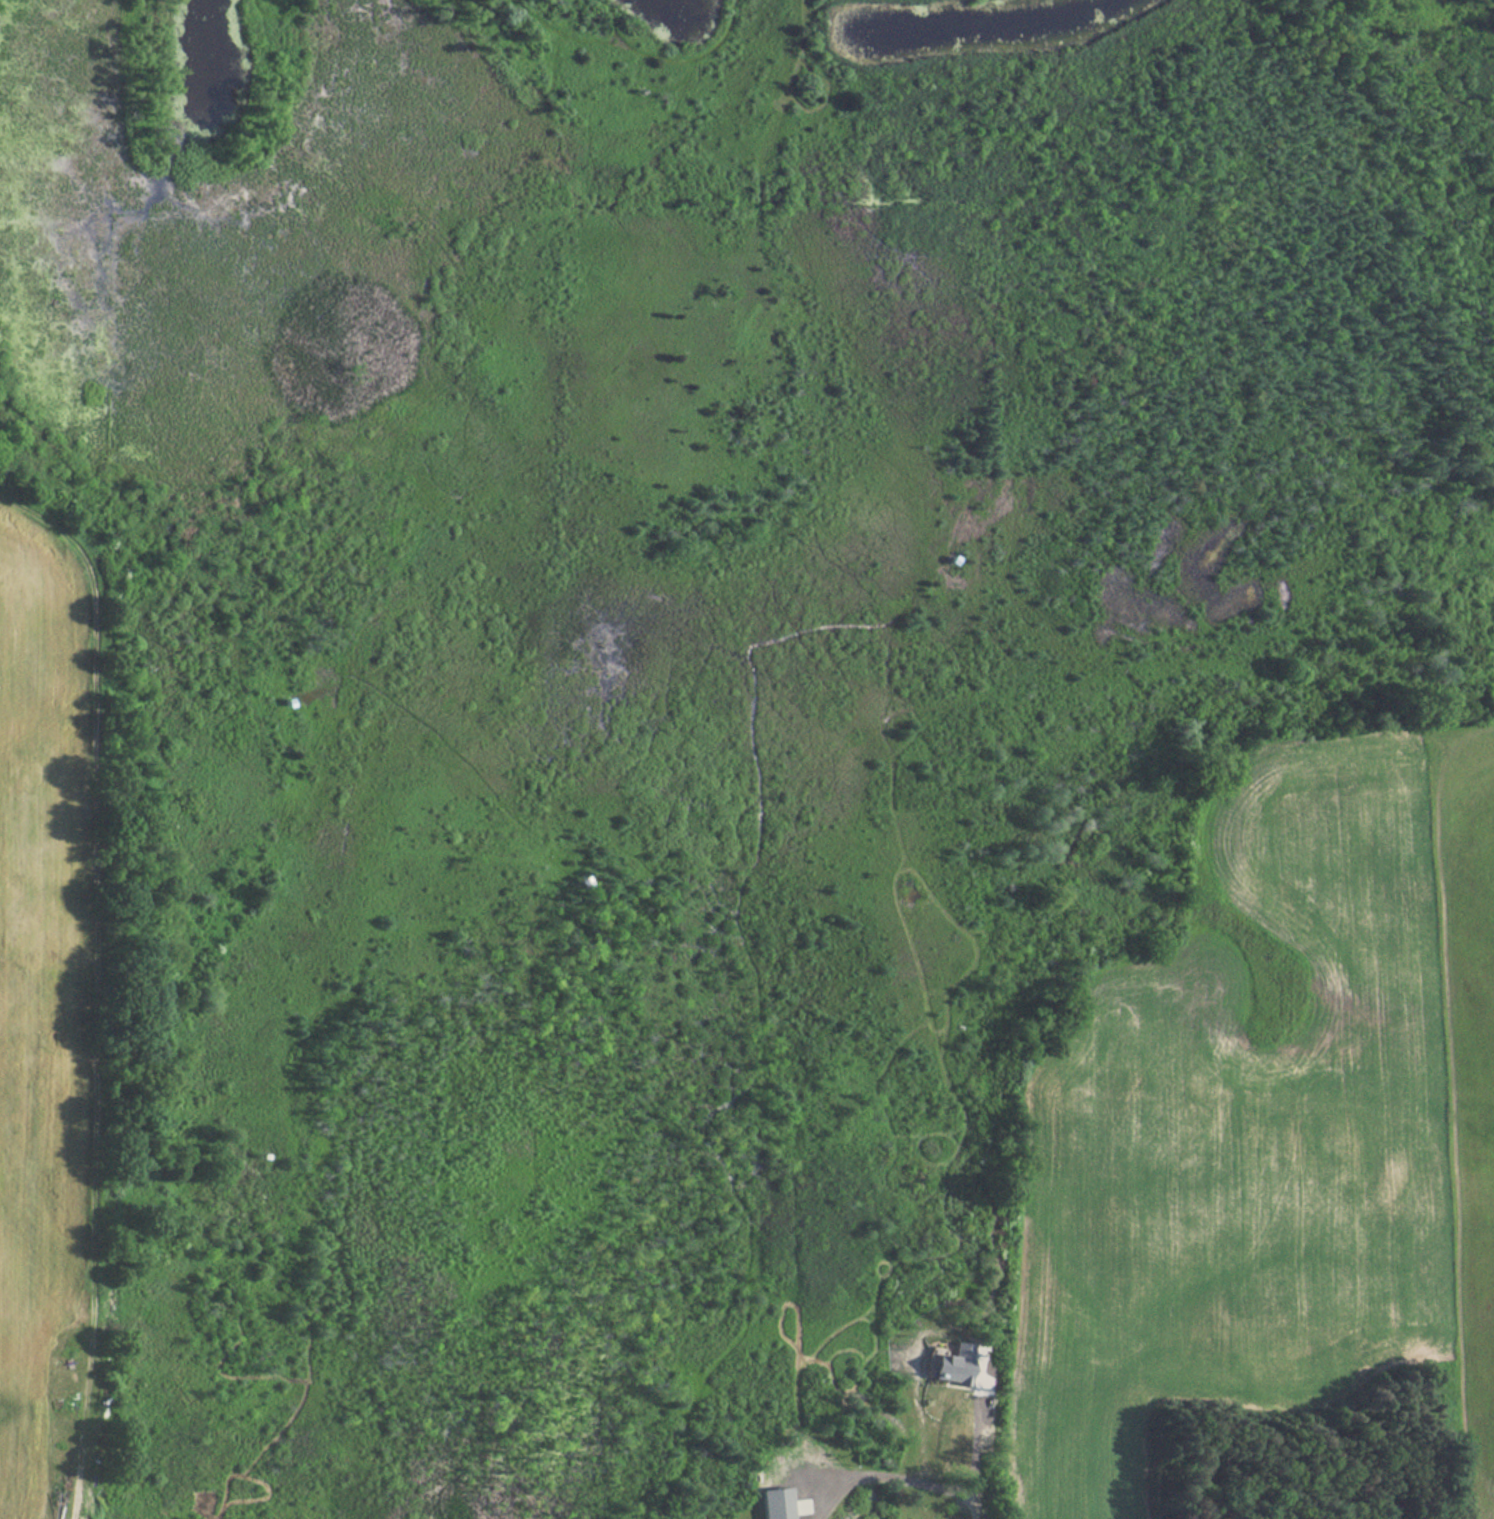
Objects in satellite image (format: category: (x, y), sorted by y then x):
building: (953, 1364)
road: (937, 1488)
building: (775, 1503)
building: (801, 1506)

